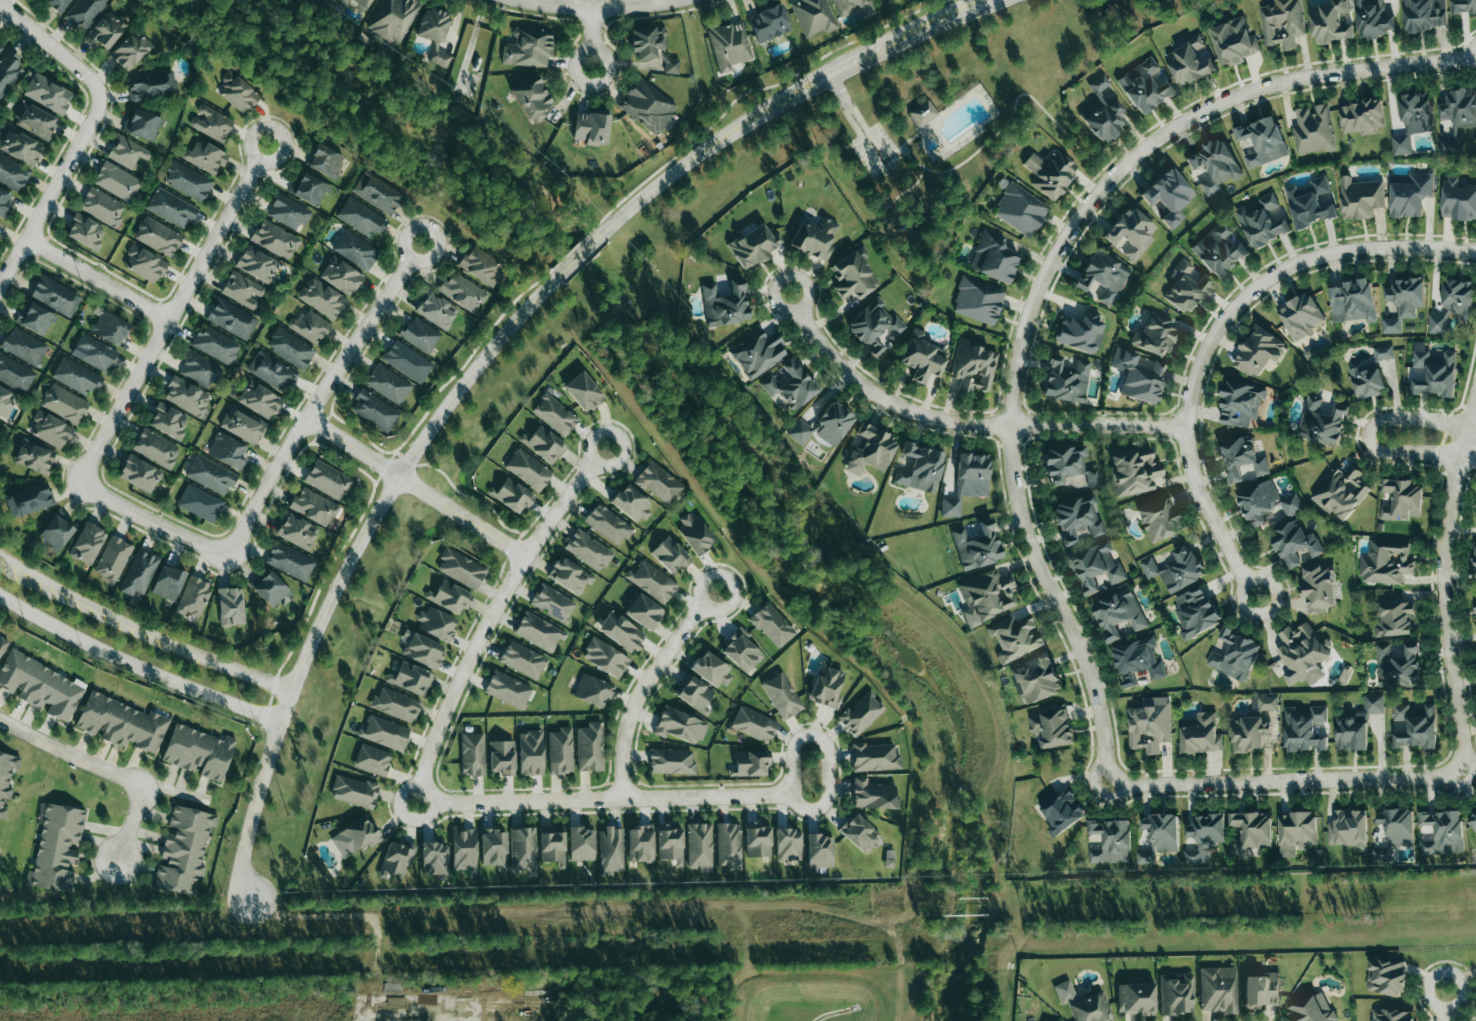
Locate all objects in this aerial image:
building: (876, 0)
building: (58, 4)
building: (357, 4)
building: (852, 7)
building: (1463, 7)
road: (600, 10)
building: (84, 12)
building: (1425, 14)
building: (812, 16)
building: (393, 18)
building: (1374, 19)
building: (1330, 22)
building: (769, 23)
building: (1282, 23)
building: (107, 29)
building: (434, 32)
road: (592, 40)
building: (647, 41)
building: (1233, 42)
building: (729, 44)
building: (1, 45)
road: (54, 46)
building: (527, 48)
building: (130, 51)
building: (1189, 62)
building: (671, 66)
building: (9, 70)
building: (152, 85)
building: (1145, 85)
building: (237, 92)
building: (47, 93)
road: (780, 97)
building: (531, 98)
building: (647, 105)
road: (1013, 106)
building: (1460, 108)
road: (856, 114)
building: (920, 114)
park: (952, 117)
building: (1362, 117)
building: (35, 121)
building: (211, 122)
building: (1412, 122)
building: (142, 125)
building: (591, 127)
building: (1313, 130)
building: (1261, 142)
building: (1449, 145)
building: (20, 147)
parking lot: (878, 150)
building: (127, 152)
building: (205, 156)
building: (326, 160)
building: (1215, 165)
building: (12, 173)
building: (1050, 173)
building: (116, 181)
building: (188, 181)
building: (309, 189)
building: (377, 192)
road: (52, 193)
building: (1409, 193)
building: (1168, 196)
building: (1360, 198)
building: (4, 201)
building: (1457, 201)
building: (1311, 203)
building: (102, 206)
building: (171, 207)
building: (1020, 209)
building: (287, 211)
building: (360, 217)
building: (1262, 222)
building: (85, 231)
building: (1131, 232)
building: (157, 236)
building: (814, 238)
building: (275, 239)
building: (753, 245)
building: (355, 249)
building: (1218, 251)
road: (576, 256)
building: (993, 257)
building: (144, 263)
building: (256, 264)
building: (482, 267)
road: (547, 270)
building: (853, 274)
building: (341, 275)
building: (1102, 276)
road: (98, 278)
building: (1186, 287)
building: (242, 290)
building: (462, 292)
building: (55, 295)
building: (1407, 296)
building: (321, 298)
building: (1459, 298)
building: (978, 300)
building: (1353, 301)
building: (725, 304)
building: (436, 310)
road: (173, 311)
building: (1301, 317)
building: (35, 318)
building: (231, 318)
building: (1437, 323)
building: (1391, 325)
building: (309, 326)
building: (874, 326)
building: (110, 327)
road: (1216, 330)
building: (1081, 331)
building: (420, 334)
building: (1156, 335)
building: (216, 344)
building: (24, 346)
building: (290, 348)
building: (1259, 351)
building: (93, 352)
building: (758, 353)
building: (1383, 353)
building: (922, 356)
building: (406, 361)
building: (973, 366)
building: (199, 369)
building: (272, 371)
building: (1433, 372)
building: (15, 374)
building: (76, 376)
building: (1139, 376)
building: (1366, 379)
building: (1066, 380)
building: (388, 384)
building: (791, 384)
building: (583, 391)
road: (320, 395)
building: (187, 396)
building: (259, 399)
building: (6, 401)
building: (63, 403)
building: (1241, 404)
building: (374, 410)
building: (554, 414)
building: (168, 421)
road: (962, 421)
building: (1322, 422)
building: (833, 423)
building: (242, 424)
building: (50, 429)
building: (800, 431)
road: (1368, 435)
building: (543, 443)
building: (155, 448)
building: (870, 450)
building: (228, 451)
building: (33, 457)
road: (1012, 457)
building: (1240, 457)
building: (1063, 463)
building: (918, 467)
building: (528, 469)
building: (1133, 472)
building: (139, 473)
building: (210, 475)
building: (327, 480)
building: (967, 481)
building: (658, 483)
road: (393, 484)
road: (417, 485)
building: (1341, 491)
building: (511, 495)
building: (1401, 499)
building: (29, 500)
building: (200, 503)
building: (632, 503)
building: (1267, 503)
building: (313, 506)
building: (1078, 517)
road: (155, 520)
building: (1159, 520)
building: (607, 524)
building: (296, 531)
building: (56, 532)
building: (695, 533)
building: (87, 543)
building: (1294, 543)
building: (977, 546)
building: (588, 550)
building: (670, 555)
building: (113, 558)
building: (290, 561)
building: (1385, 561)
building: (1475, 564)
building: (461, 568)
building: (1097, 568)
building: (1176, 569)
building: (139, 572)
building: (569, 575)
building: (652, 581)
building: (168, 582)
road: (1444, 583)
building: (271, 589)
building: (1318, 589)
building: (450, 596)
building: (986, 596)
building: (193, 598)
building: (552, 602)
building: (231, 606)
road: (495, 611)
building: (1195, 611)
building: (1475, 611)
building: (644, 612)
building: (1118, 614)
building: (1395, 619)
building: (436, 623)
building: (772, 625)
road: (142, 629)
building: (539, 631)
building: (621, 631)
building: (1015, 637)
building: (2, 644)
building: (421, 649)
building: (741, 651)
building: (1302, 654)
building: (1235, 656)
building: (605, 657)
building: (1139, 658)
building: (522, 659)
road: (136, 665)
building: (1397, 666)
building: (711, 670)
building: (411, 678)
building: (1036, 679)
building: (1129, 680)
building: (40, 685)
road: (644, 685)
building: (827, 686)
building: (507, 689)
building: (592, 690)
building: (696, 694)
building: (782, 695)
building: (1264, 703)
building: (395, 704)
building: (860, 714)
building: (121, 723)
building: (753, 724)
building: (1357, 724)
building: (679, 725)
building: (1149, 725)
building: (1413, 726)
building: (1051, 727)
building: (1304, 730)
building: (384, 732)
building: (1249, 733)
building: (1201, 735)
building: (590, 747)
road: (827, 750)
building: (560, 751)
road: (69, 752)
building: (198, 752)
building: (530, 752)
building: (472, 754)
building: (501, 757)
building: (874, 757)
building: (372, 759)
building: (671, 761)
building: (750, 763)
building: (6, 778)
road: (404, 789)
building: (354, 791)
building: (873, 795)
road: (609, 799)
building: (1062, 812)
road: (253, 813)
road: (424, 815)
building: (1472, 821)
road: (131, 823)
building: (1397, 825)
building: (1348, 829)
building: (1162, 831)
building: (1296, 831)
building: (859, 832)
building: (1251, 832)
building: (1442, 832)
building: (355, 836)
building: (1204, 837)
building: (758, 840)
building: (1111, 841)
building: (581, 843)
building: (640, 843)
building: (669, 843)
building: (699, 844)
building: (552, 845)
building: (728, 845)
building: (787, 845)
building: (56, 847)
building: (493, 848)
building: (522, 848)
building: (463, 849)
building: (184, 850)
building: (610, 850)
building: (819, 851)
building: (1146, 856)
building: (397, 857)
building: (434, 858)
building: (1385, 975)
building: (1218, 989)
building: (1261, 989)
building: (1064, 991)
building: (1176, 993)
road: (1461, 996)
building: (1136, 998)
road: (409, 1002)
building: (1091, 1008)
building: (1311, 1009)
building: (1392, 1015)
road: (1443, 1015)

